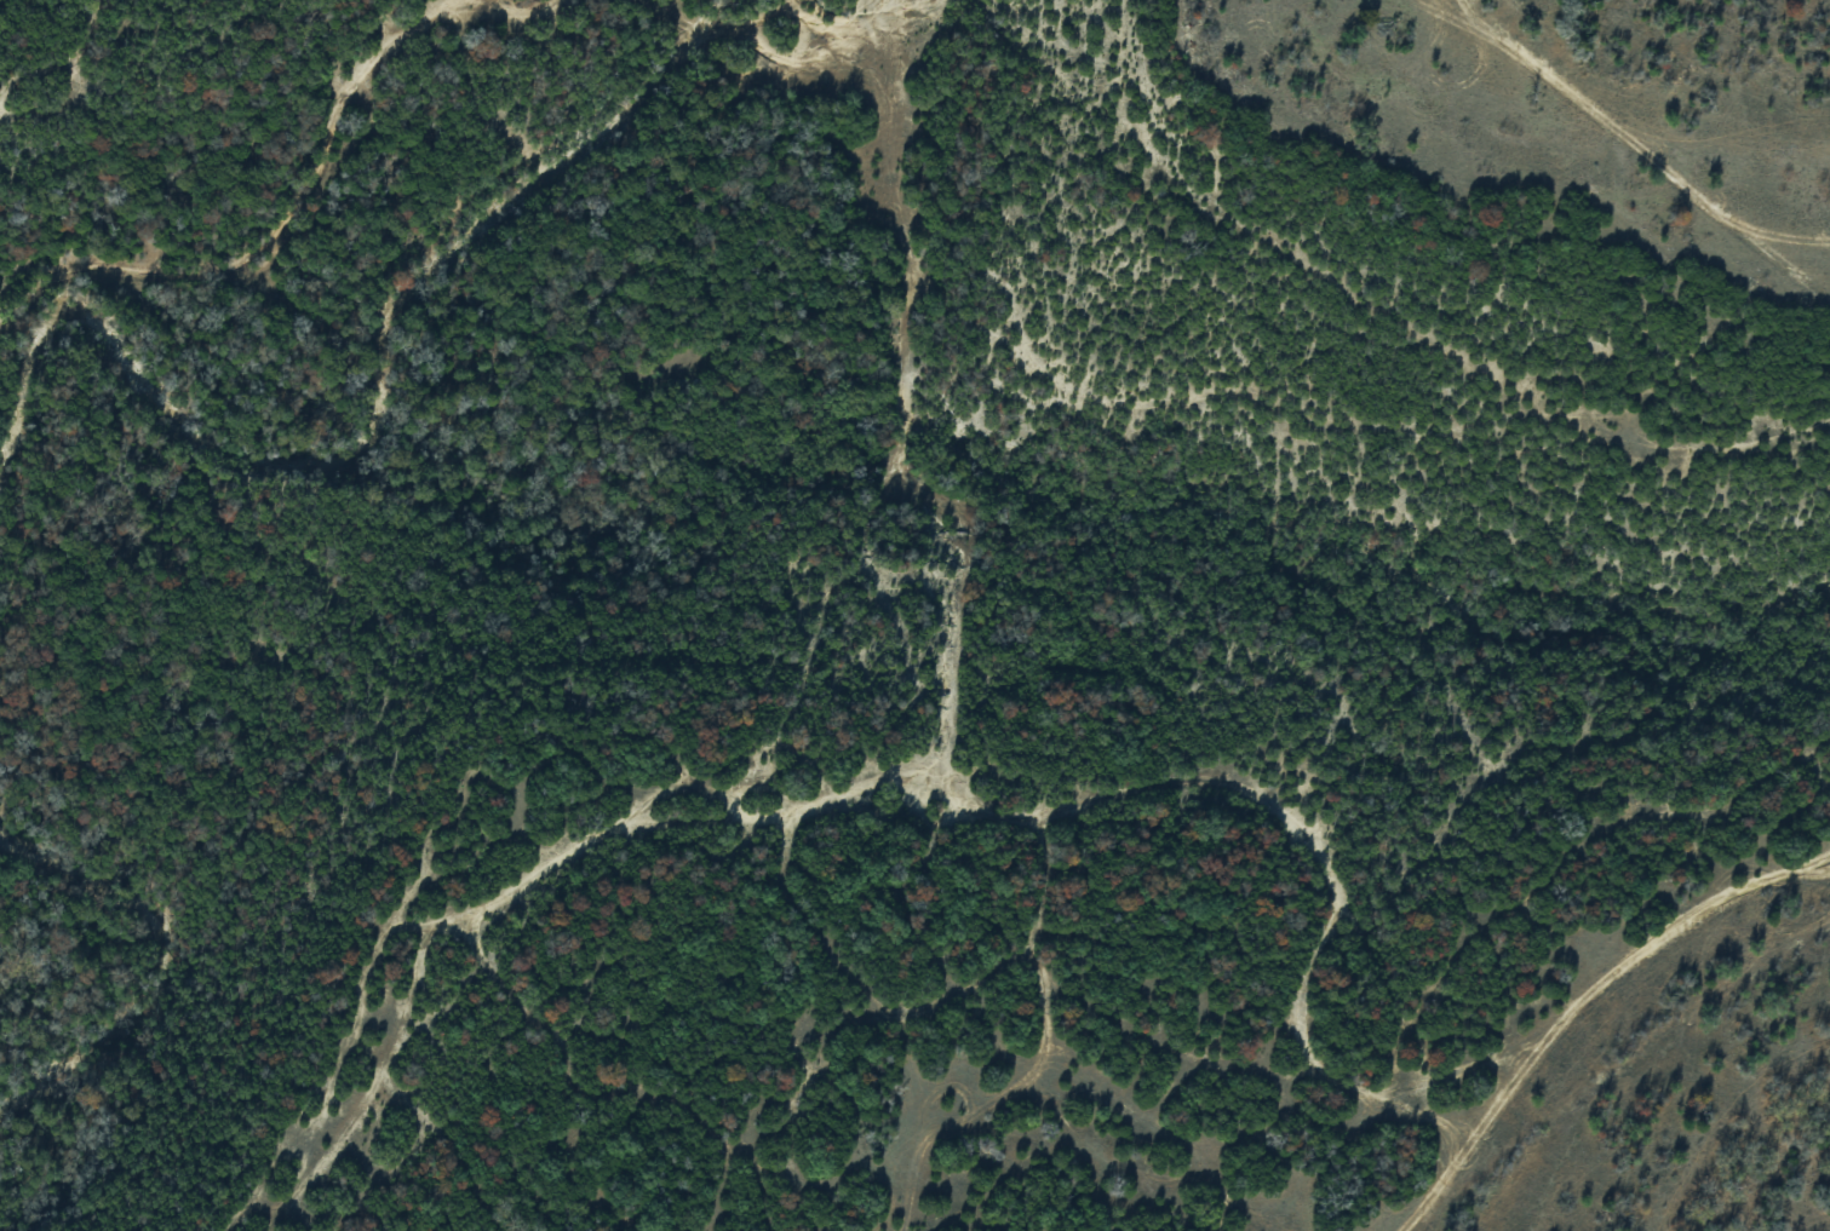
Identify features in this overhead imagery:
road: (1703, 103)
road: (1049, 660)
road: (1581, 1062)

